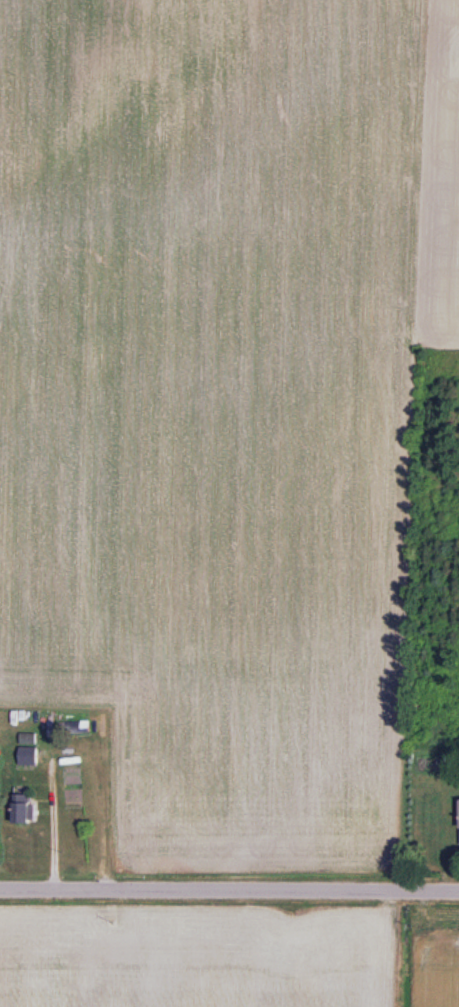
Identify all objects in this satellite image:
building: (80, 727)
building: (28, 751)
building: (71, 780)
building: (21, 809)
building: (458, 823)
road: (229, 888)

